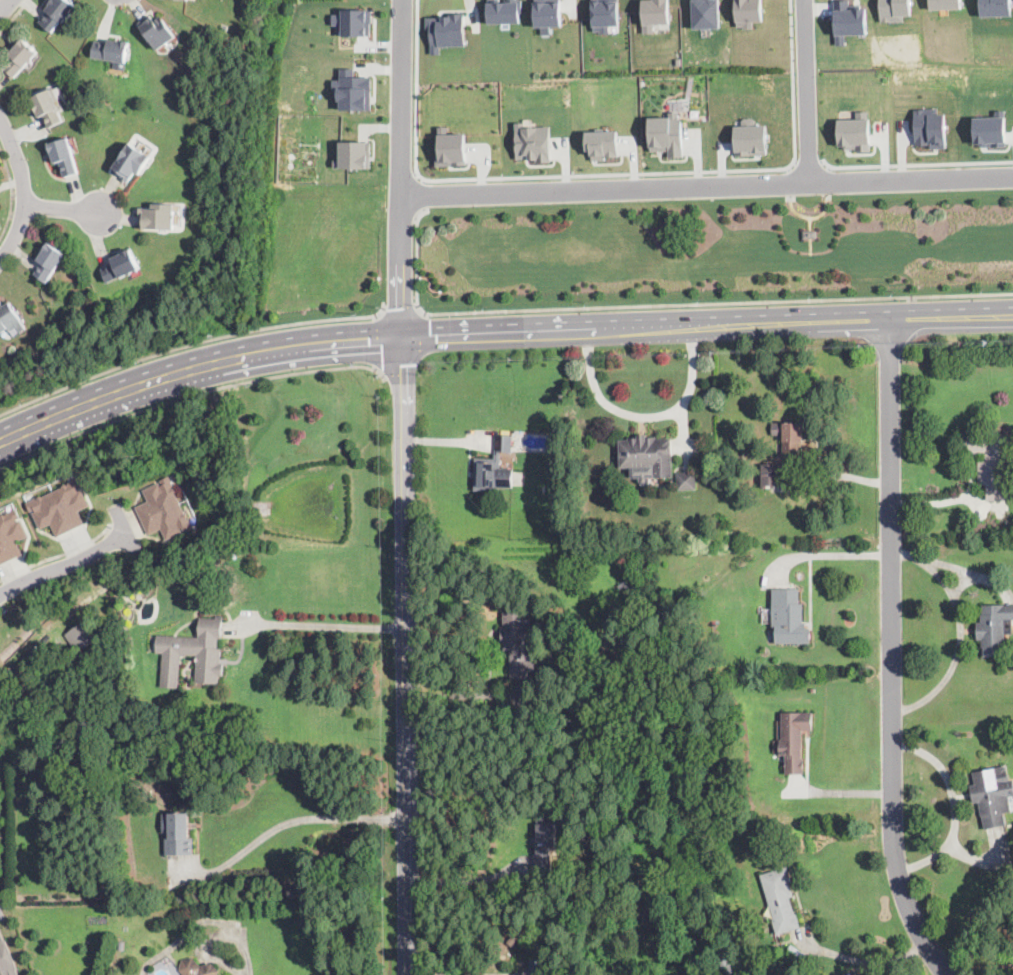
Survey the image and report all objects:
building: (184, 0)
road: (4, 4)
building: (944, 4)
building: (995, 7)
building: (894, 9)
building: (506, 11)
building: (746, 12)
building: (57, 13)
building: (654, 13)
building: (705, 13)
building: (548, 14)
building: (605, 14)
road: (15, 17)
building: (848, 19)
building: (357, 22)
building: (450, 30)
building: (157, 31)
building: (111, 50)
building: (21, 58)
building: (353, 90)
road: (806, 90)
building: (49, 107)
building: (930, 128)
building: (990, 130)
building: (856, 131)
building: (667, 133)
building: (749, 137)
building: (535, 143)
building: (603, 144)
building: (454, 148)
building: (356, 154)
building: (65, 155)
building: (131, 163)
road: (915, 163)
road: (807, 165)
road: (403, 168)
road: (600, 173)
road: (707, 185)
road: (24, 189)
road: (12, 194)
road: (422, 194)
road: (63, 207)
building: (158, 217)
building: (811, 233)
road: (417, 258)
building: (50, 262)
building: (121, 266)
building: (90, 299)
road: (717, 302)
road: (403, 311)
building: (9, 319)
road: (815, 321)
road: (509, 332)
road: (423, 335)
traffic signals: (401, 336)
road: (380, 343)
road: (191, 345)
road: (195, 367)
road: (401, 369)
road: (190, 396)
road: (649, 415)
building: (791, 438)
building: (647, 454)
building: (991, 465)
building: (495, 467)
building: (722, 475)
building: (771, 475)
building: (687, 481)
building: (60, 507)
building: (164, 509)
building: (10, 535)
road: (840, 554)
road: (58, 555)
road: (66, 567)
building: (183, 571)
building: (789, 618)
road: (322, 625)
road: (957, 629)
building: (995, 629)
building: (82, 634)
building: (519, 642)
building: (210, 651)
road: (893, 653)
road: (403, 655)
building: (579, 660)
building: (794, 740)
building: (993, 795)
road: (289, 822)
building: (179, 835)
building: (545, 842)
road: (467, 879)
building: (781, 900)
road: (245, 948)
building: (7, 958)
road: (867, 962)
building: (726, 964)
building: (197, 968)
road: (469, 974)

